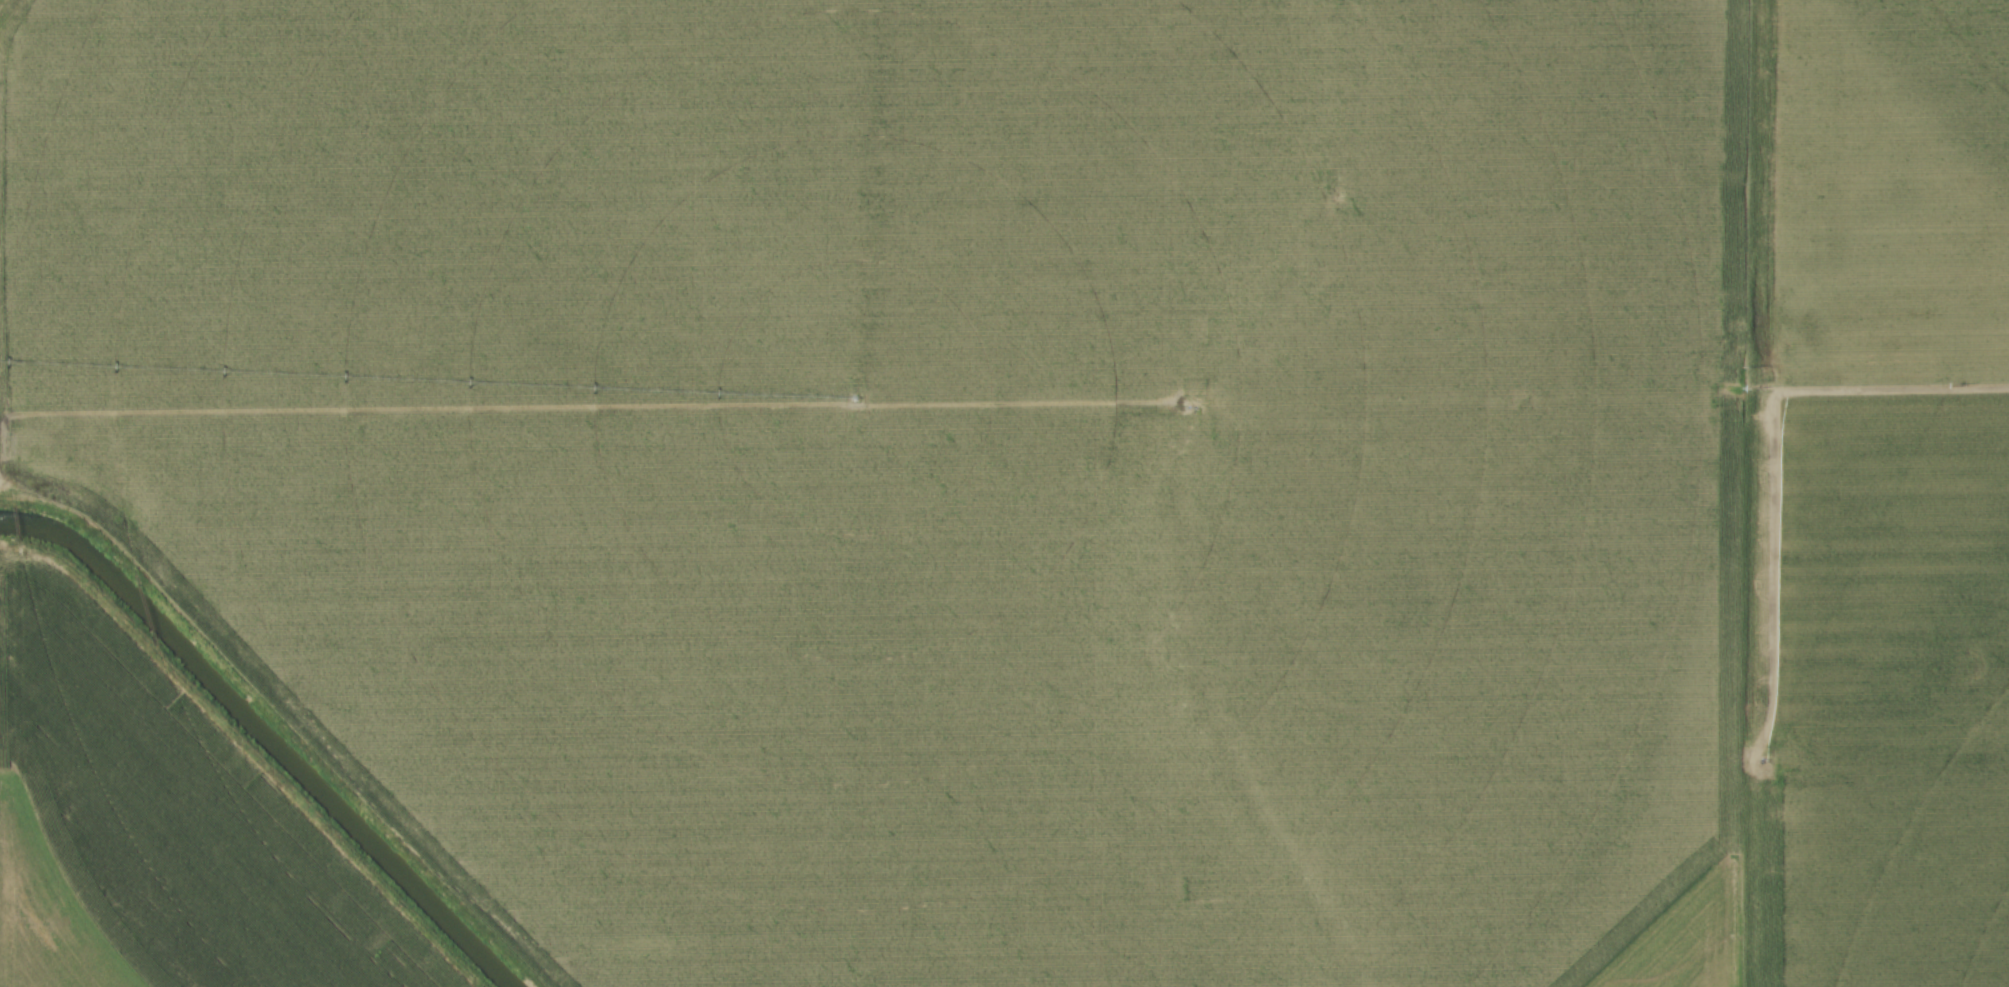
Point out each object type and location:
road: (817, 403)
crop: (1086, 462)
crop: (155, 834)

